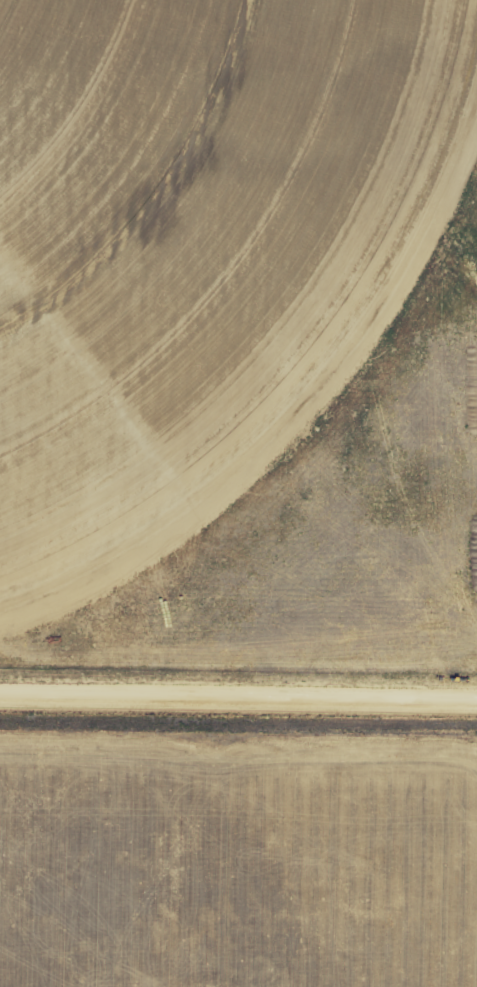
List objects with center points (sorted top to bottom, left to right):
road: (238, 697)

